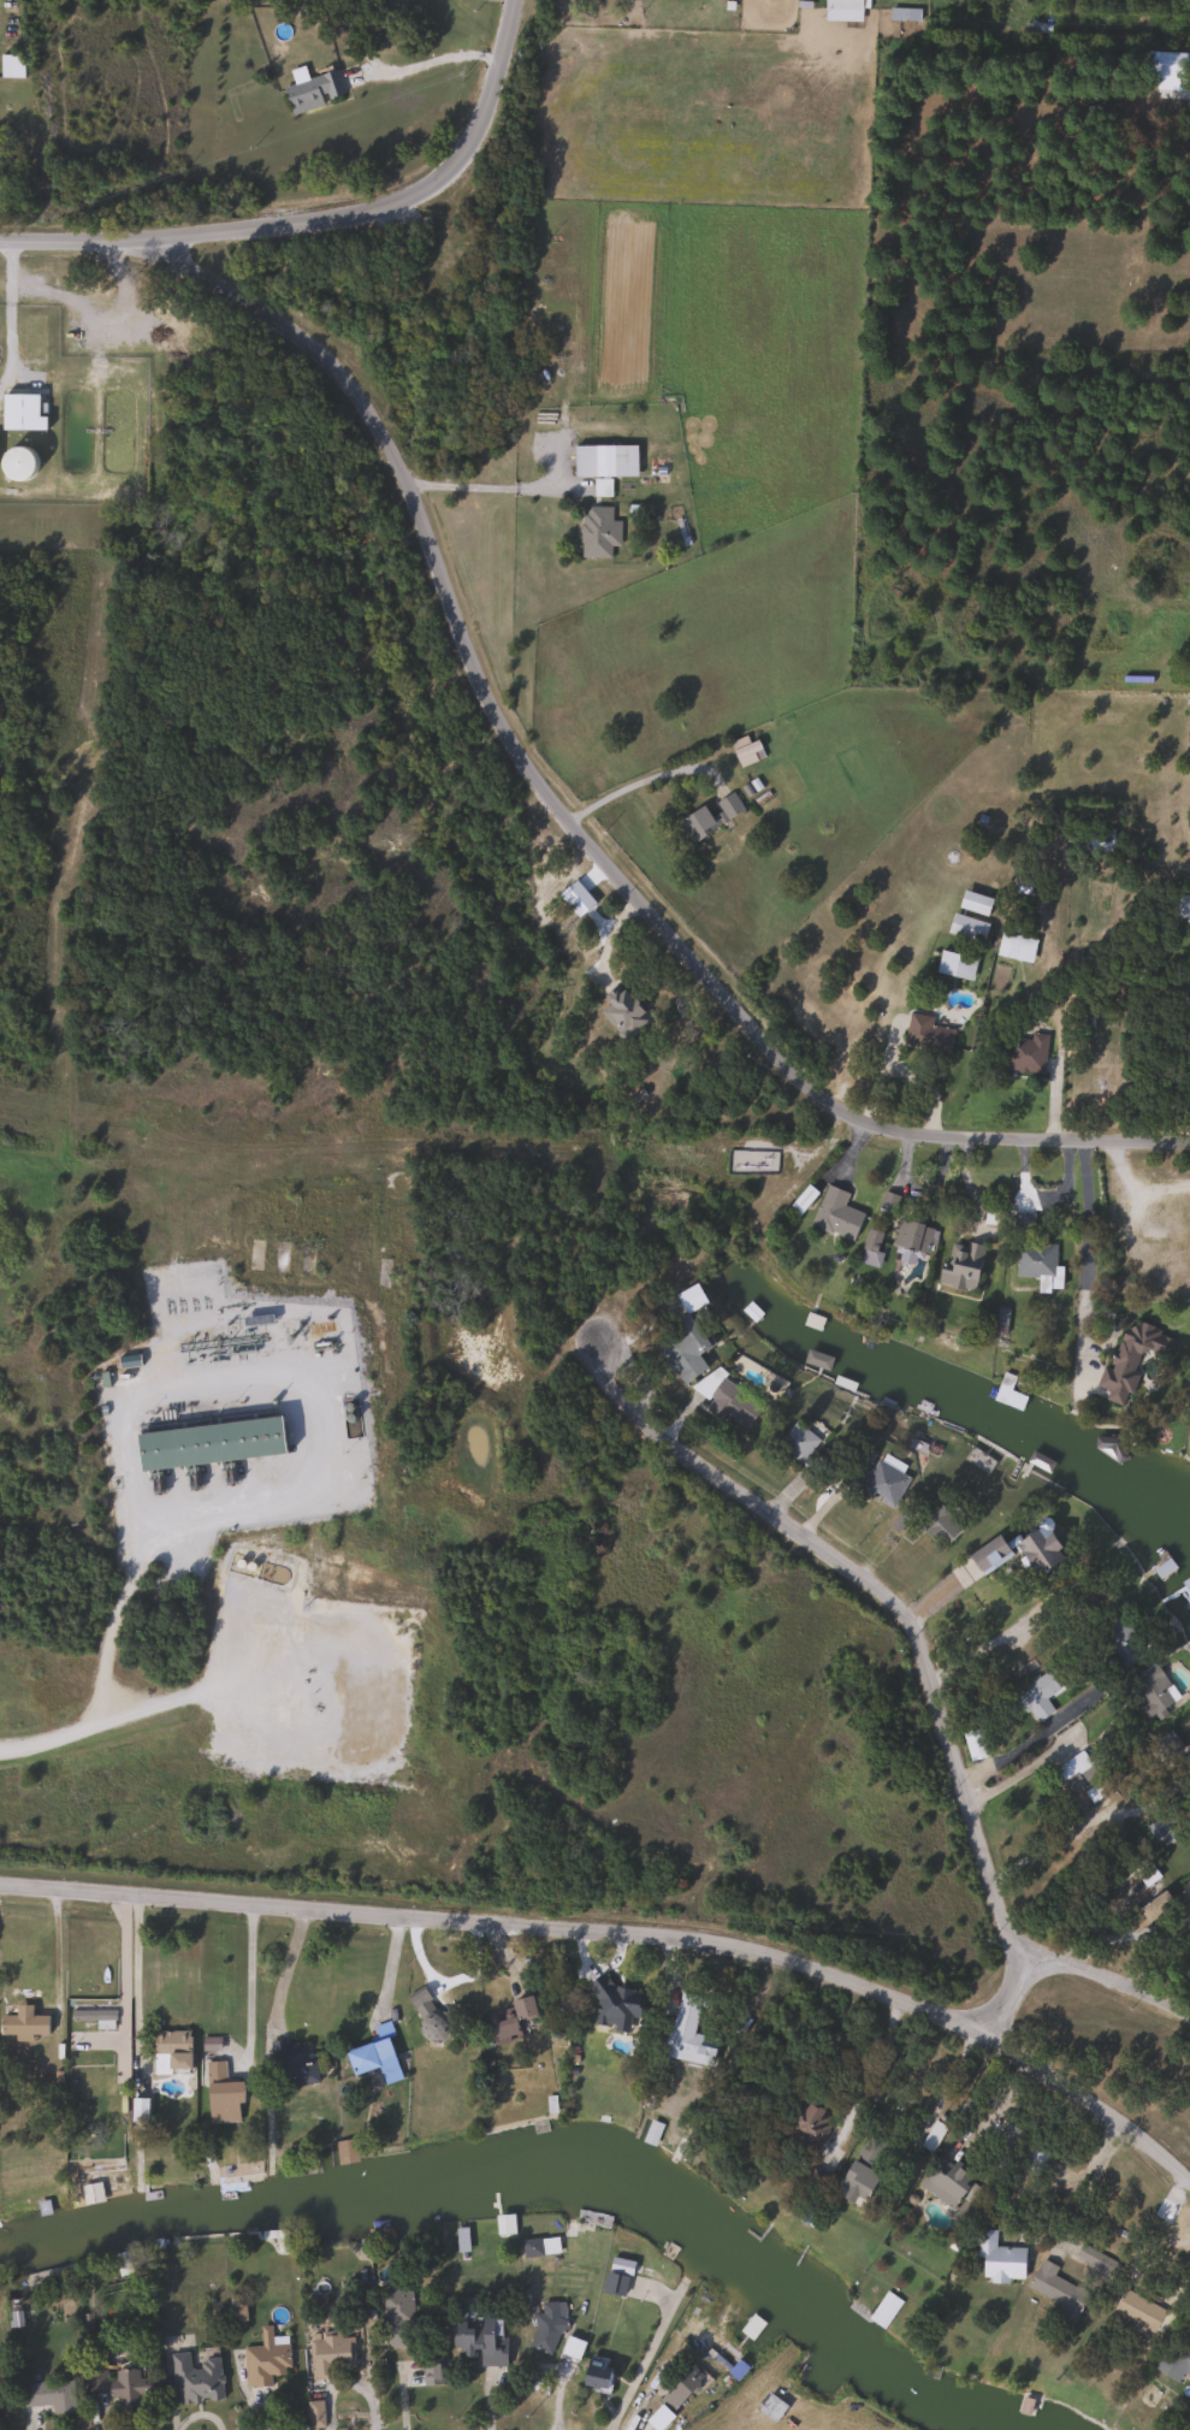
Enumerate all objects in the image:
building: (842, 4)
building: (904, 14)
building: (1041, 28)
road: (427, 61)
building: (11, 69)
building: (313, 91)
road: (153, 93)
road: (321, 217)
road: (7, 314)
building: (20, 413)
building: (604, 461)
building: (16, 465)
road: (489, 485)
building: (597, 532)
building: (746, 751)
road: (644, 771)
building: (709, 816)
road: (570, 824)
building: (1100, 839)
building: (975, 928)
building: (1007, 944)
building: (621, 1010)
building: (925, 1031)
building: (1022, 1053)
road: (1135, 1188)
building: (801, 1199)
building: (834, 1212)
road: (1085, 1231)
building: (910, 1241)
building: (870, 1242)
building: (1034, 1258)
building: (959, 1264)
building: (683, 1349)
building: (1130, 1358)
building: (726, 1399)
building: (797, 1441)
building: (208, 1442)
building: (883, 1480)
building: (935, 1520)
road: (910, 1622)
road: (116, 1625)
building: (1119, 1640)
road: (985, 1642)
building: (1153, 1691)
building: (1037, 1695)
road: (108, 1720)
road: (1029, 1740)
building: (972, 1743)
building: (1164, 1748)
building: (1076, 1772)
building: (1093, 1792)
building: (1167, 1822)
building: (1184, 1904)
building: (1153, 1905)
road: (626, 1931)
road: (286, 1968)
road: (1102, 1974)
building: (1189, 1979)
road: (247, 1980)
road: (132, 1982)
building: (425, 2011)
building: (510, 2020)
building: (22, 2023)
building: (685, 2033)
building: (171, 2051)
building: (374, 2057)
building: (292, 2062)
road: (946, 2085)
building: (221, 2094)
building: (809, 2124)
building: (651, 2132)
building: (344, 2151)
building: (863, 2168)
building: (945, 2184)
building: (503, 2224)
building: (539, 2247)
building: (997, 2259)
building: (128, 2262)
building: (614, 2284)
building: (1056, 2292)
building: (883, 2310)
building: (1137, 2310)
building: (397, 2319)
building: (750, 2326)
building: (545, 2328)
building: (479, 2335)
building: (570, 2347)
building: (326, 2353)
building: (265, 2359)
building: (1174, 2360)
road: (640, 2363)
building: (594, 2373)
building: (195, 2378)
building: (117, 2385)
building: (680, 2388)
building: (48, 2395)
building: (314, 2414)

